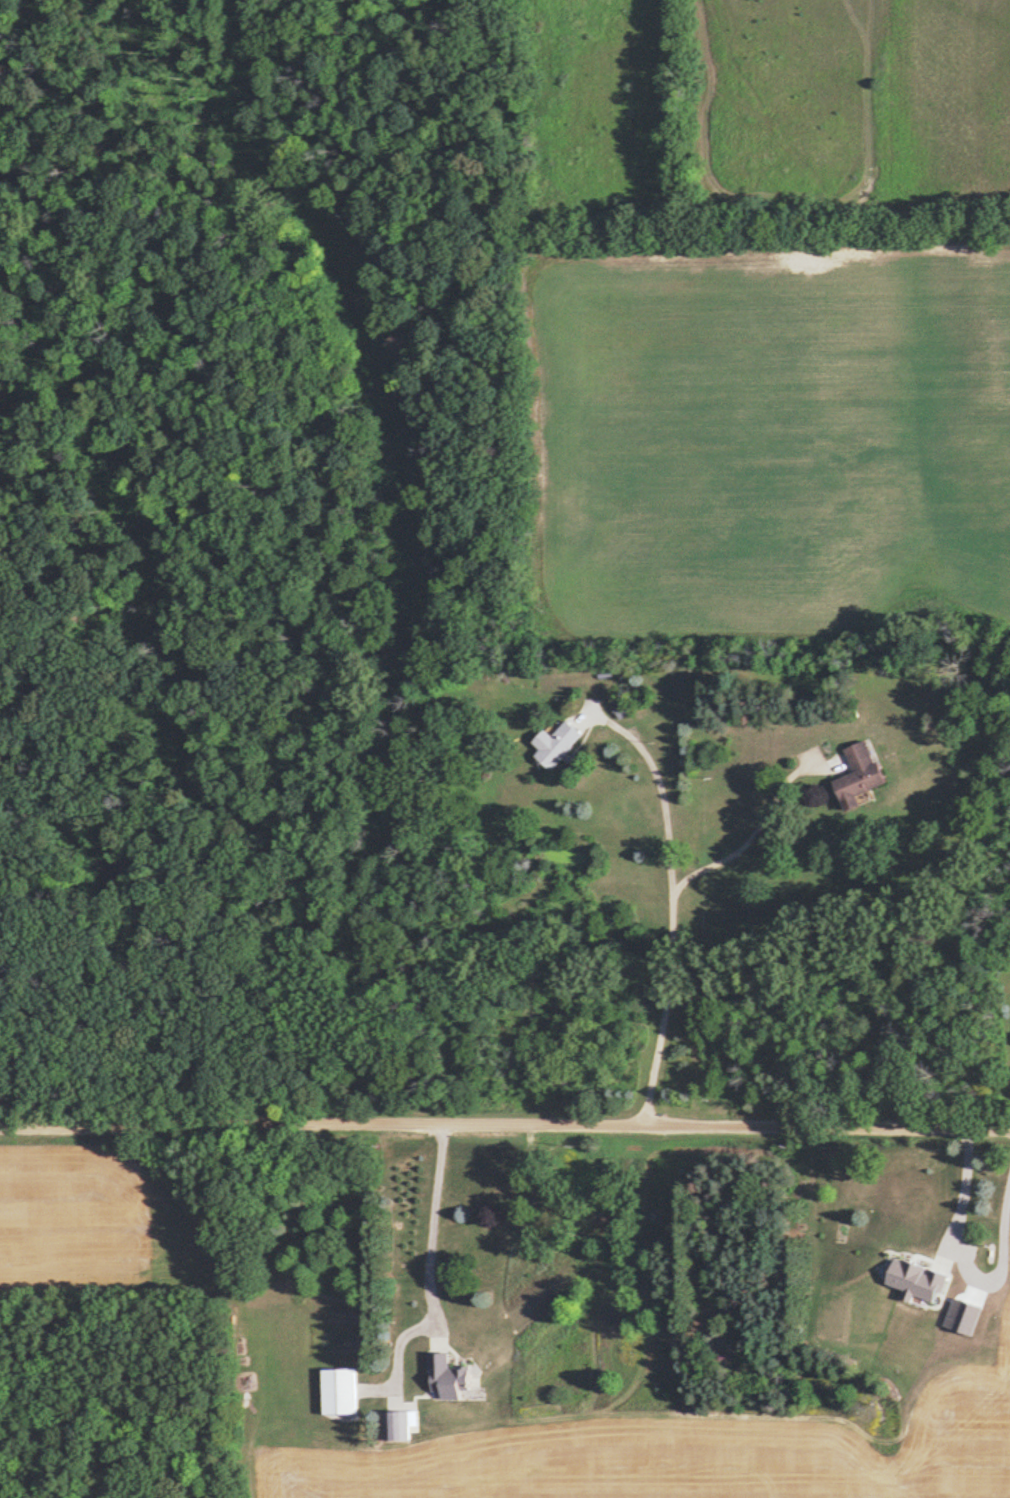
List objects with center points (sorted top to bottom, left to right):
building: (622, 706)
building: (558, 745)
building: (859, 775)
road: (754, 828)
road: (670, 909)
road: (505, 1120)
road: (963, 1190)
building: (915, 1209)
road: (430, 1262)
building: (449, 1319)
building: (339, 1390)
building: (398, 1424)

